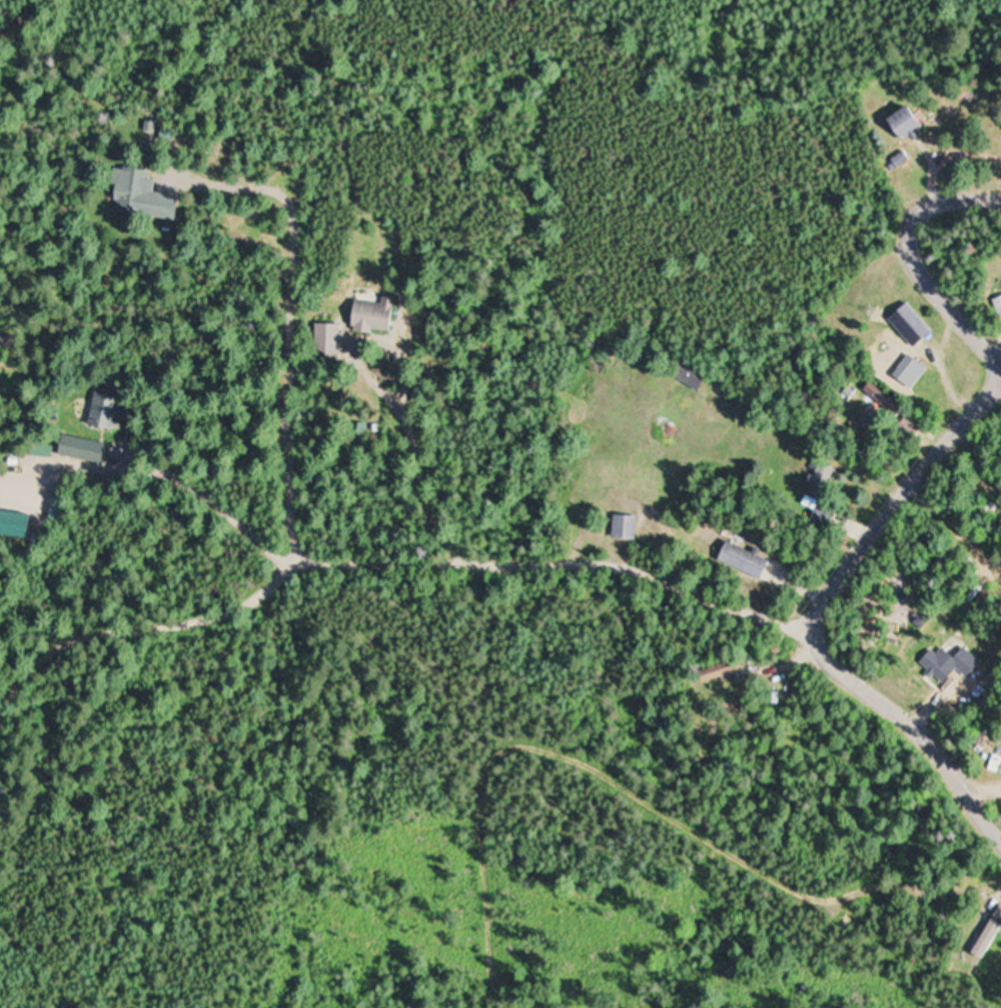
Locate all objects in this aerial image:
building: (909, 124)
building: (146, 196)
road: (948, 199)
road: (942, 282)
building: (999, 304)
building: (375, 312)
building: (914, 322)
building: (329, 339)
building: (11, 341)
building: (914, 371)
building: (694, 376)
building: (886, 402)
building: (110, 412)
building: (95, 452)
building: (49, 454)
building: (824, 481)
building: (827, 517)
building: (628, 529)
road: (555, 557)
building: (747, 562)
road: (820, 619)
building: (952, 664)
building: (726, 673)
building: (997, 763)

